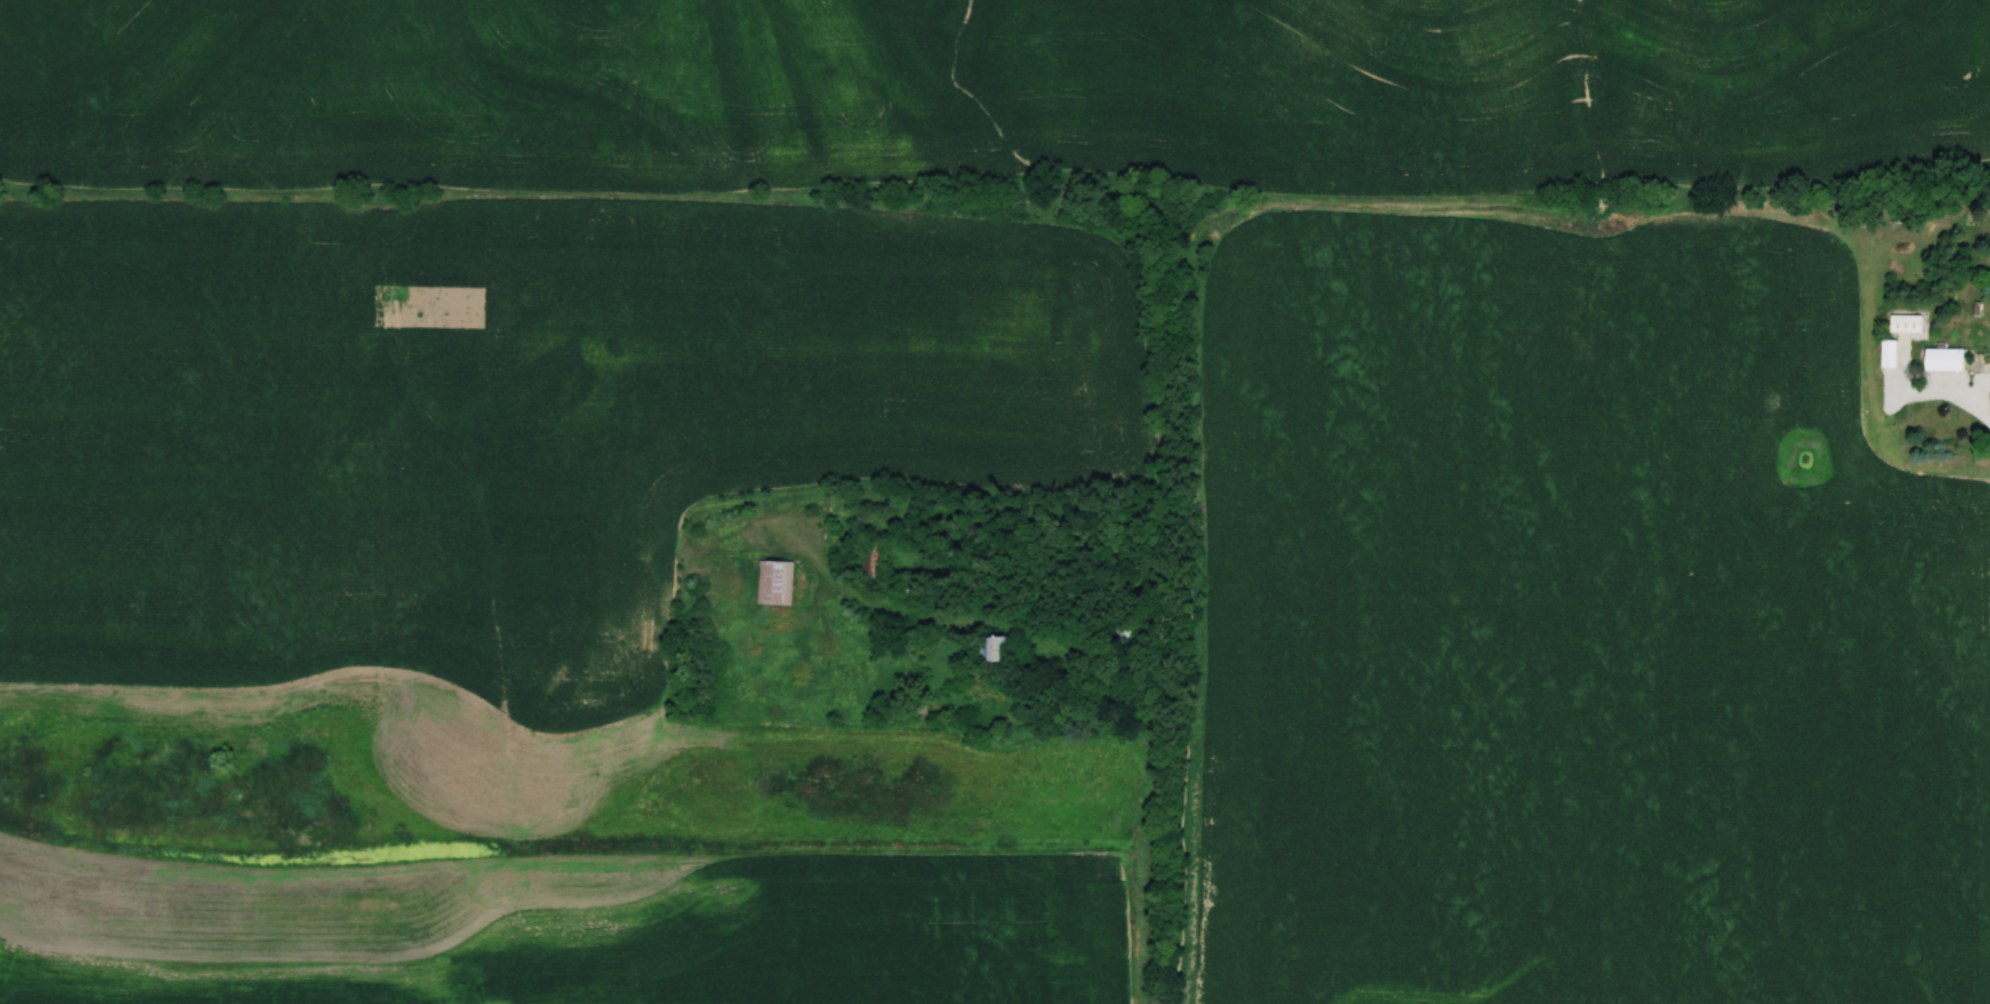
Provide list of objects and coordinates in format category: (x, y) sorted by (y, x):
building: (1905, 324)
building: (1889, 354)
building: (1944, 360)
road: (1949, 393)
building: (873, 560)
building: (774, 583)
building: (1123, 633)
building: (991, 649)

